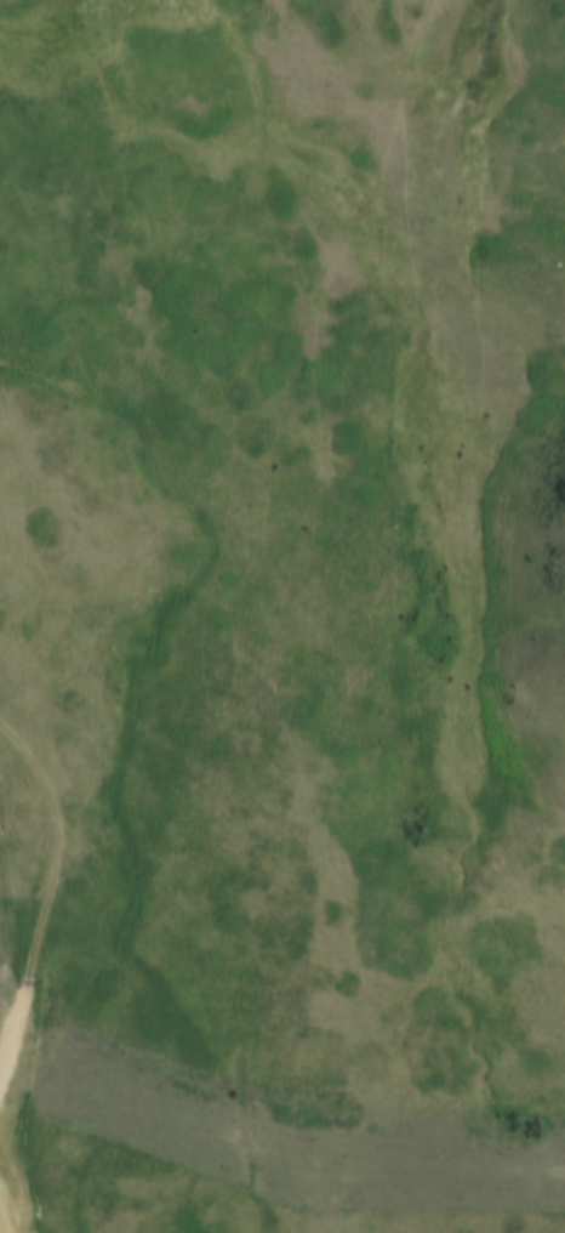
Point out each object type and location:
road: (262, 557)
road: (36, 917)

